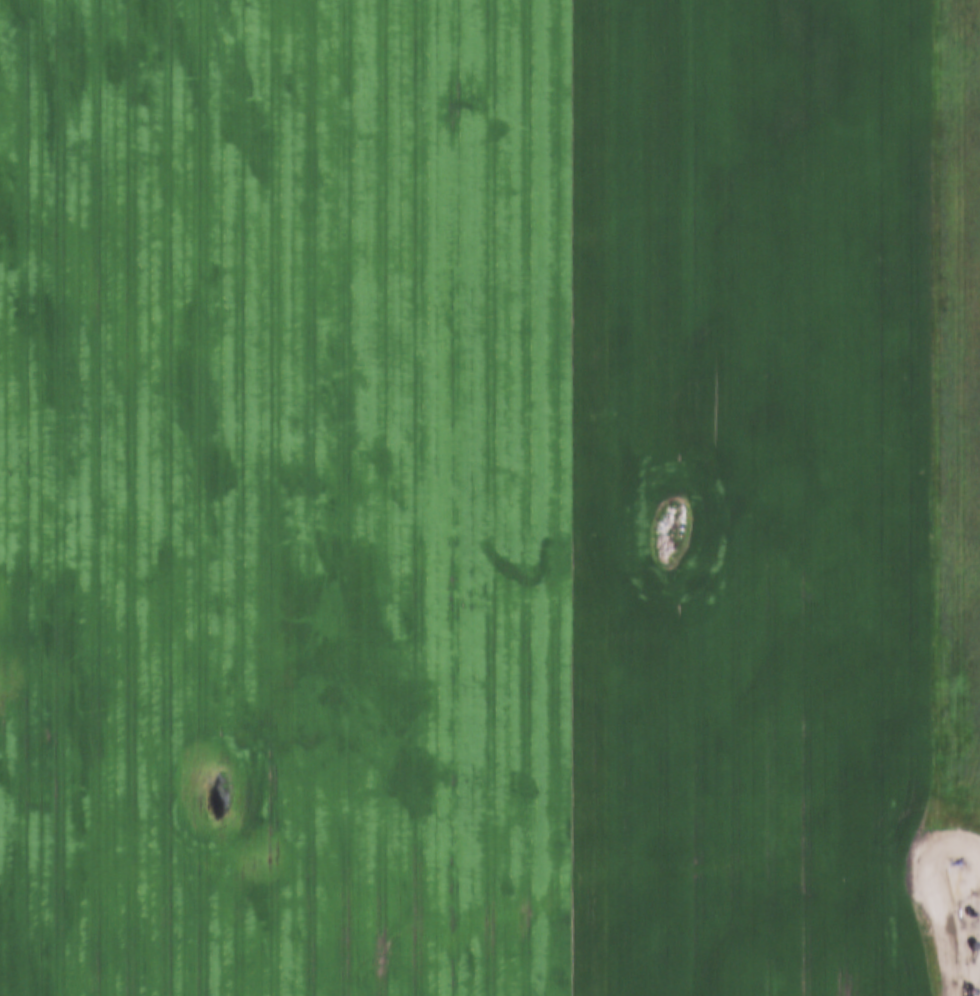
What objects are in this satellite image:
road: (936, 903)

